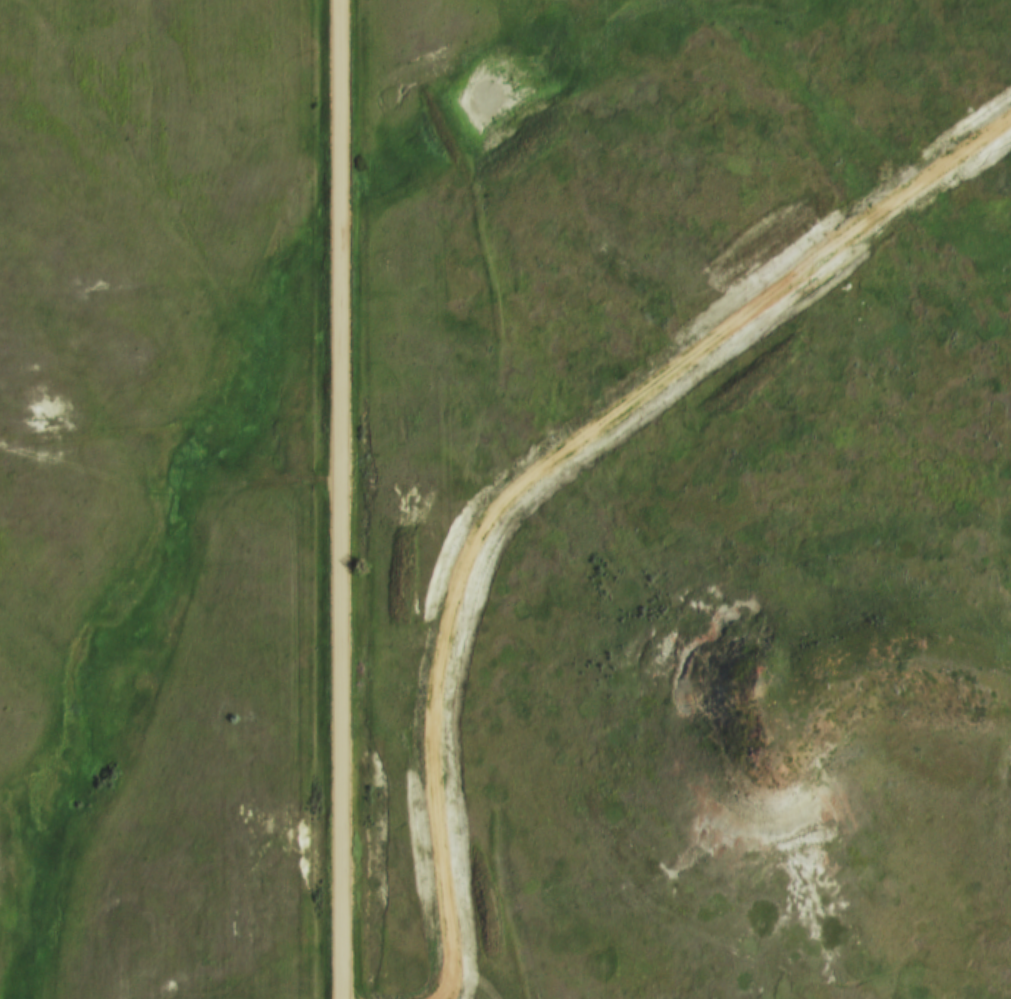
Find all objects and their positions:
road: (340, 499)

